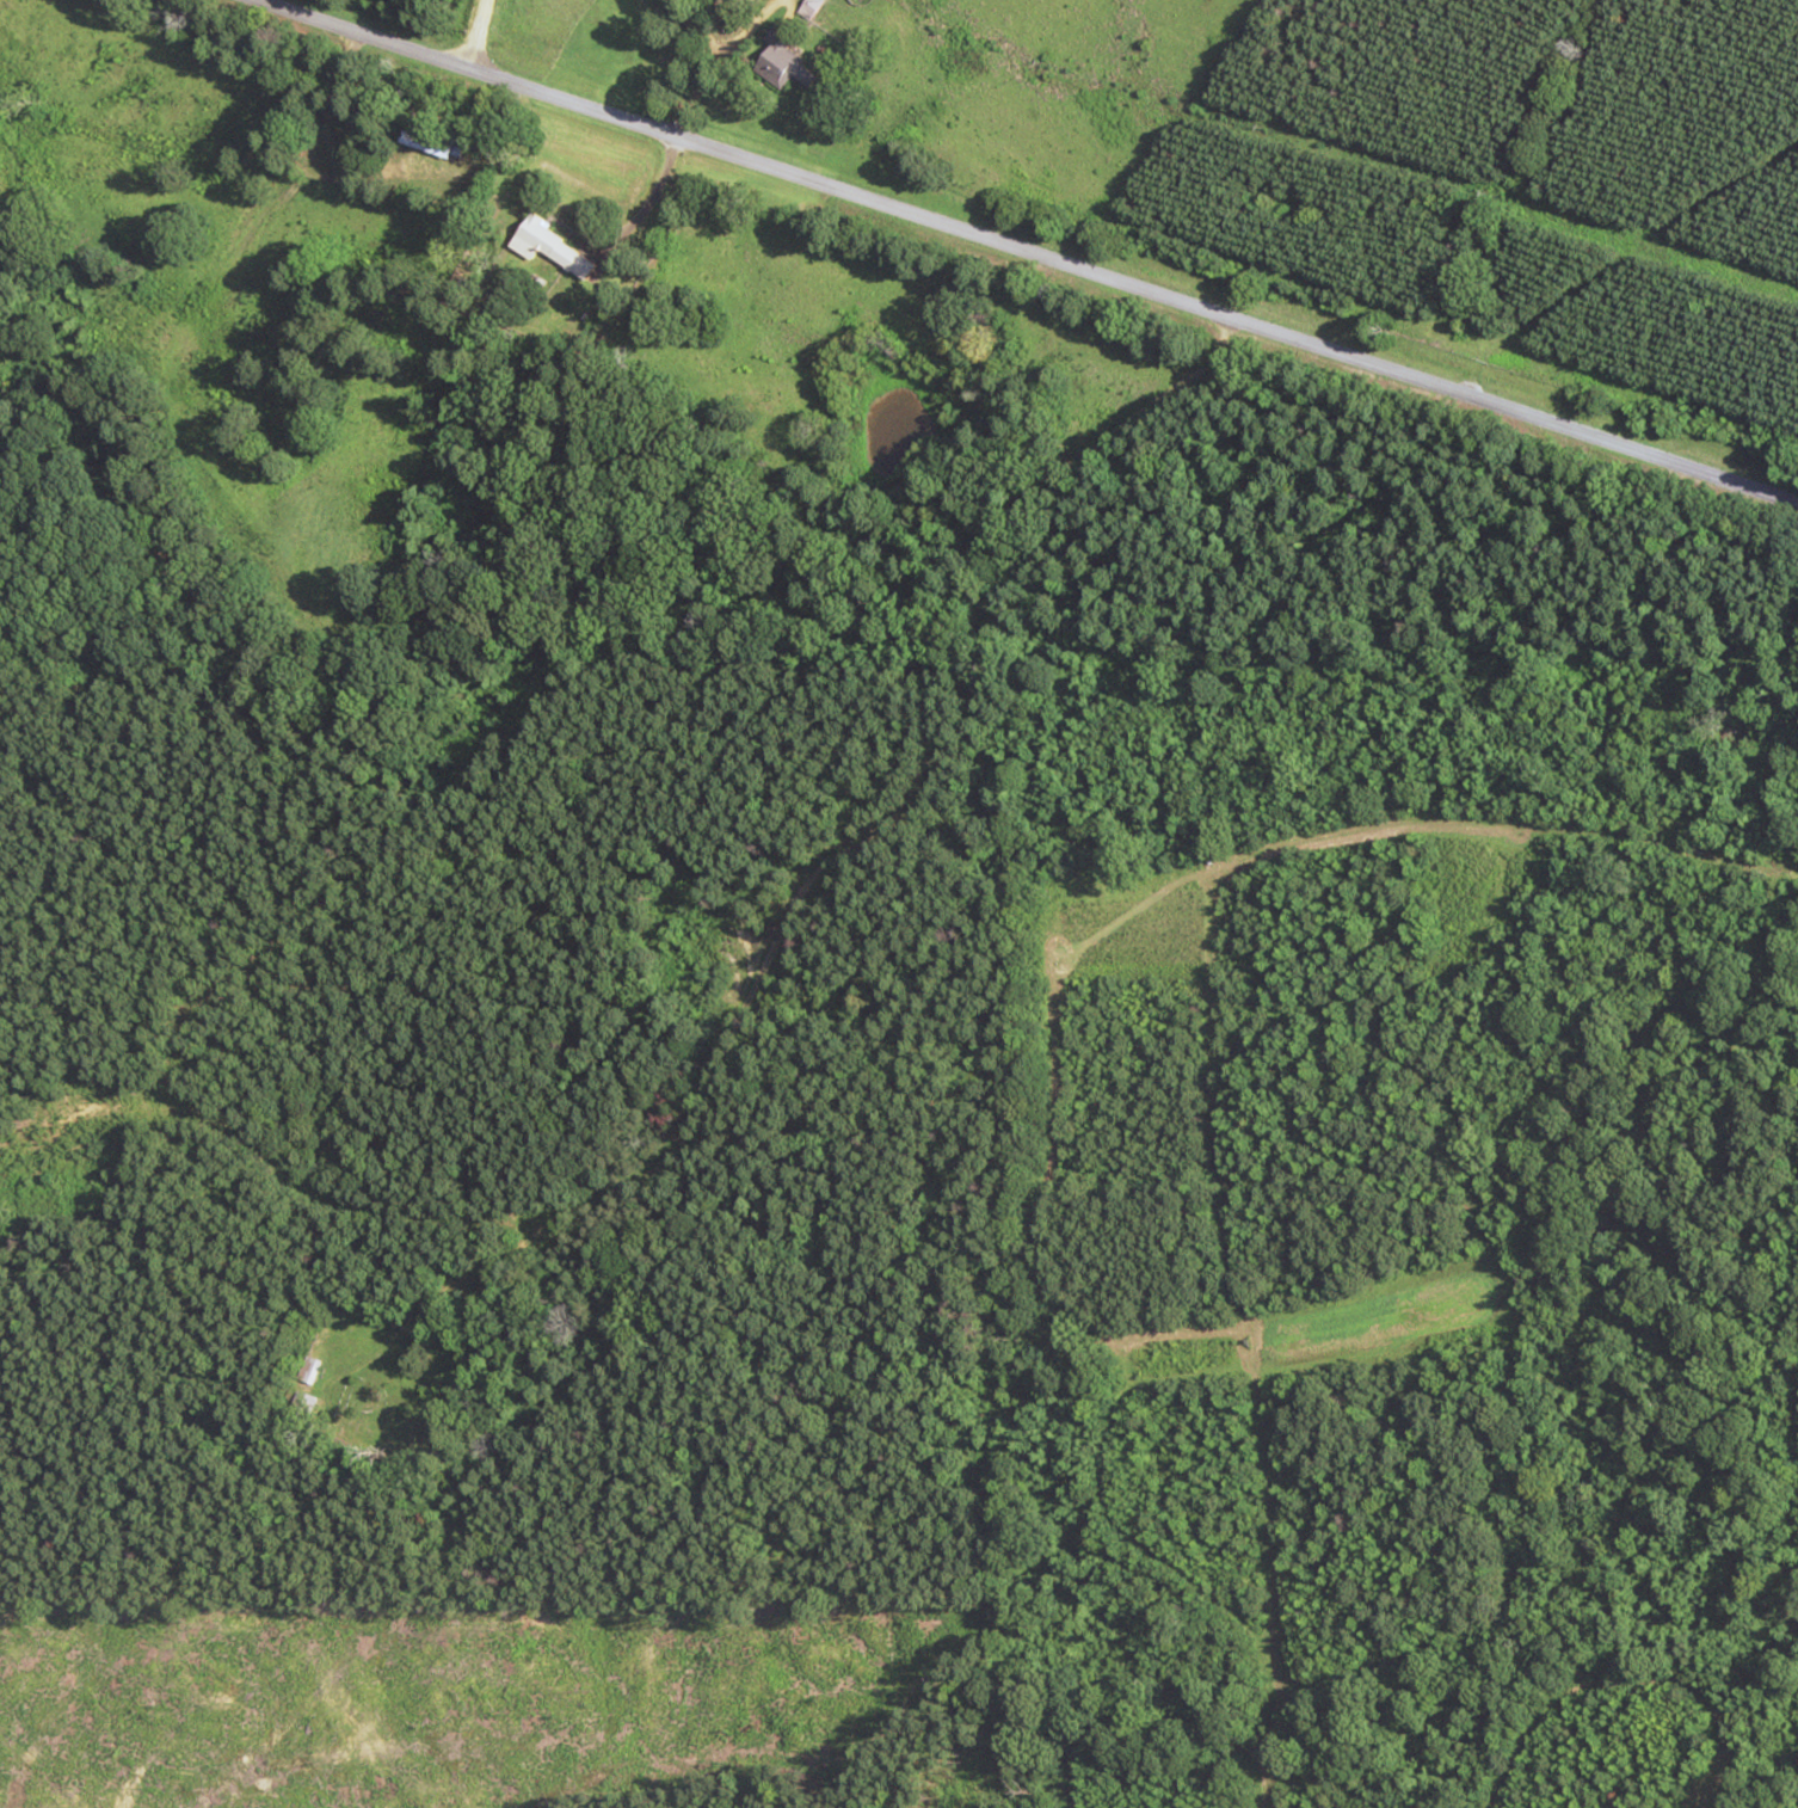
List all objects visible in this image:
building: (809, 8)
road: (480, 36)
building: (783, 60)
building: (435, 140)
building: (552, 245)
road: (1023, 251)

